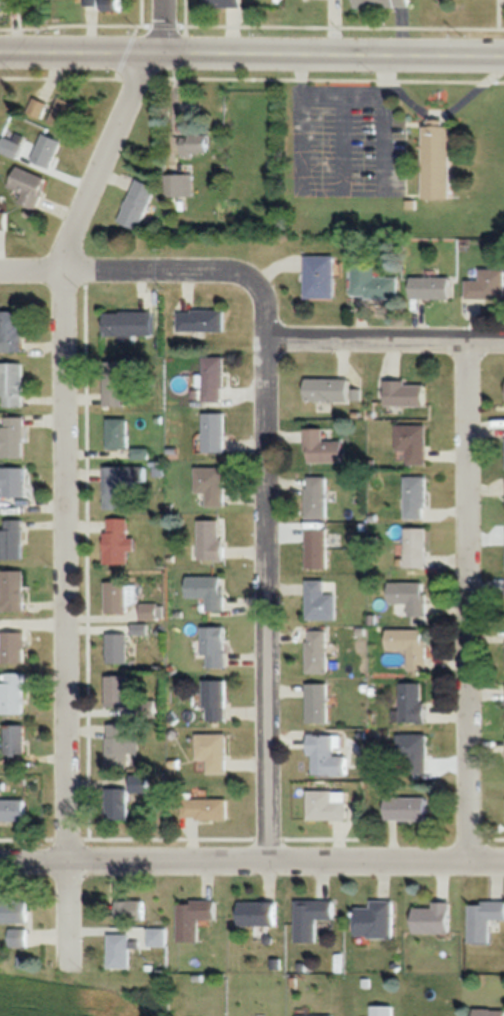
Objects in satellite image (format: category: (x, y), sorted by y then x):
building: (91, 2)
building: (382, 3)
building: (112, 4)
building: (222, 4)
road: (252, 52)
building: (38, 107)
building: (65, 113)
building: (13, 145)
building: (195, 145)
building: (48, 150)
building: (440, 162)
building: (180, 185)
building: (30, 186)
building: (138, 204)
building: (3, 219)
building: (320, 277)
road: (140, 279)
building: (373, 284)
building: (486, 285)
building: (431, 288)
building: (202, 320)
building: (129, 324)
building: (11, 331)
road: (385, 346)
building: (214, 380)
building: (116, 383)
building: (12, 385)
building: (328, 389)
building: (405, 393)
building: (117, 433)
building: (214, 433)
building: (13, 438)
building: (412, 442)
building: (322, 447)
road: (66, 476)
building: (13, 482)
building: (120, 483)
building: (212, 484)
building: (317, 497)
building: (415, 497)
building: (13, 539)
building: (212, 539)
building: (118, 541)
building: (415, 547)
building: (317, 548)
road: (268, 589)
building: (209, 590)
building: (14, 591)
building: (117, 596)
building: (410, 597)
building: (320, 600)
road: (468, 607)
building: (151, 611)
building: (13, 646)
building: (214, 646)
building: (117, 647)
building: (411, 647)
building: (318, 651)
building: (119, 691)
building: (13, 693)
building: (215, 699)
building: (318, 702)
building: (411, 705)
building: (16, 739)
building: (121, 745)
building: (213, 752)
building: (413, 754)
building: (326, 757)
building: (117, 804)
building: (325, 807)
building: (12, 809)
building: (406, 809)
building: (205, 810)
road: (251, 867)
building: (130, 911)
building: (13, 912)
building: (257, 914)
building: (193, 917)
building: (312, 918)
building: (433, 918)
building: (484, 919)
building: (375, 920)
building: (18, 937)
building: (120, 950)
crop: (77, 994)
building: (381, 1010)
building: (487, 1012)
building: (314, 1015)

